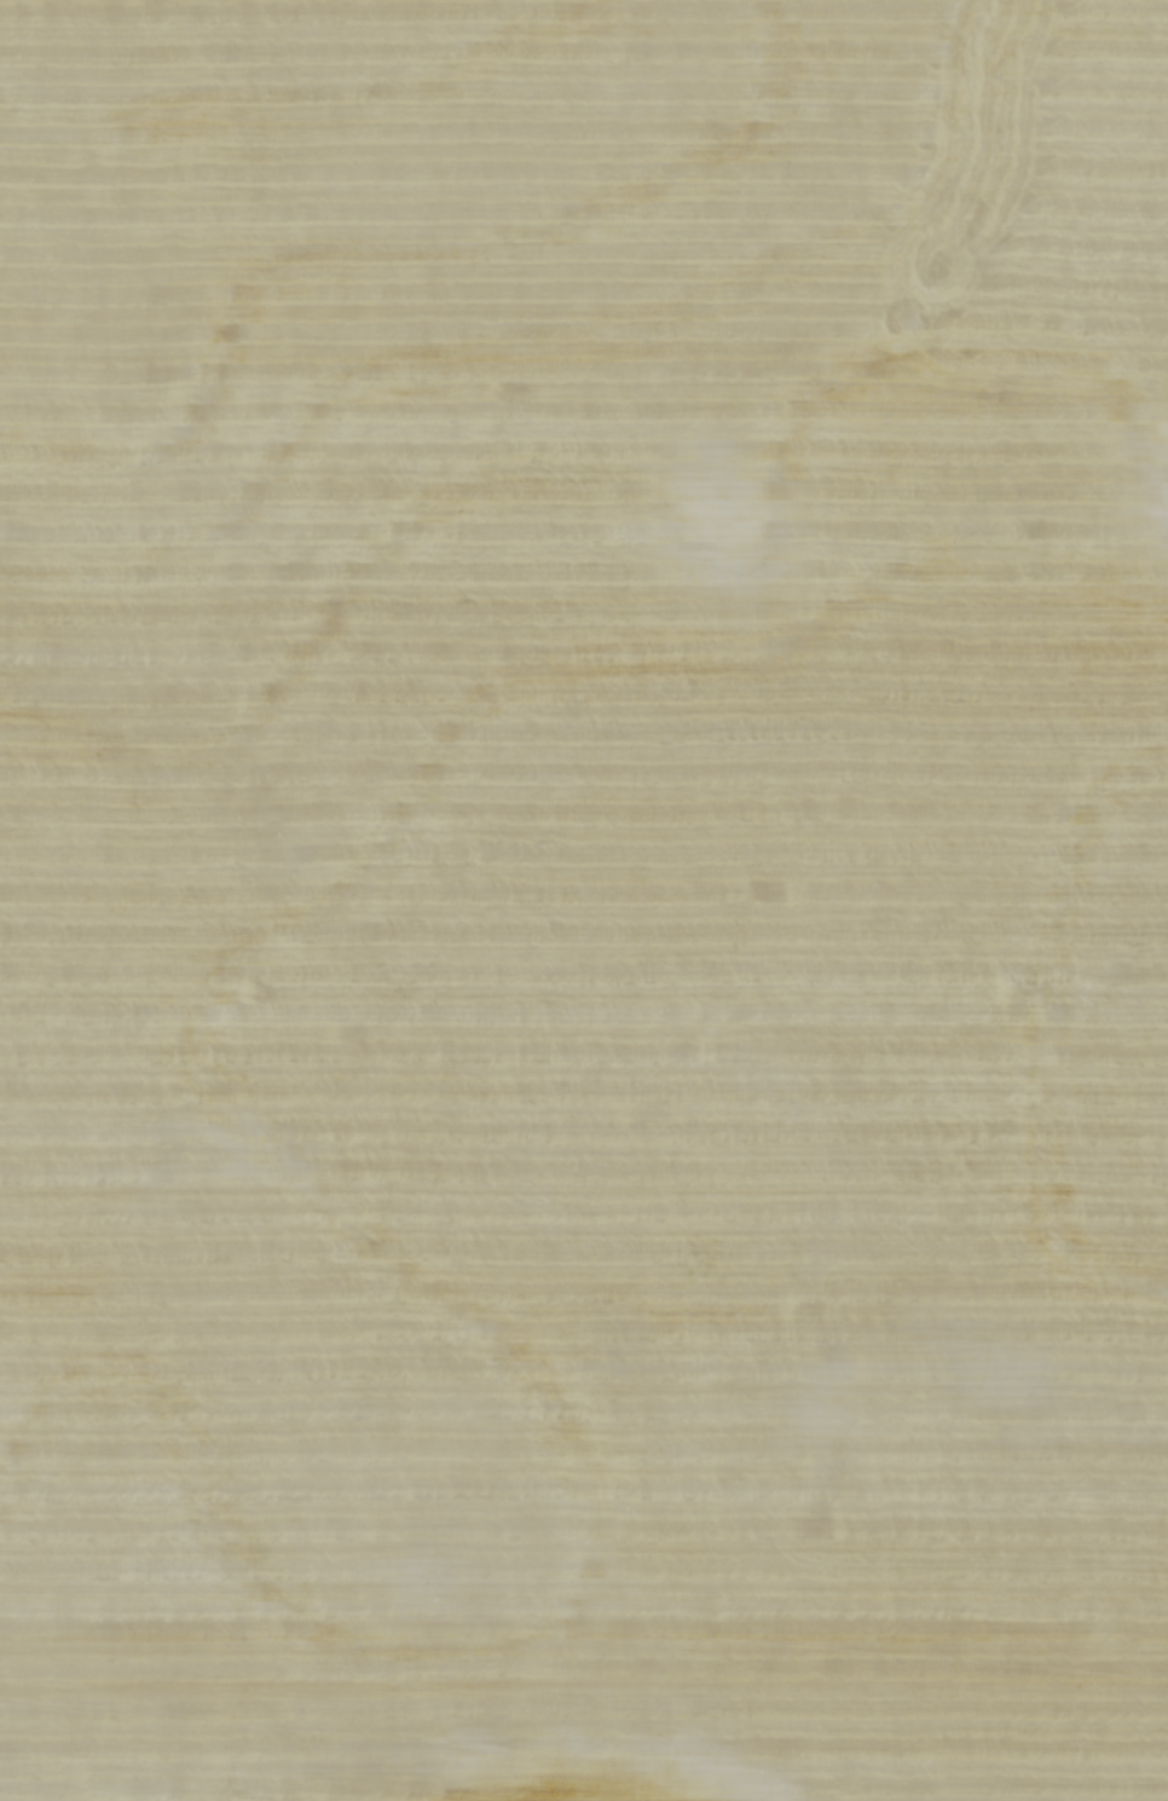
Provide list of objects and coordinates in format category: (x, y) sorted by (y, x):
crop: (584, 900)

